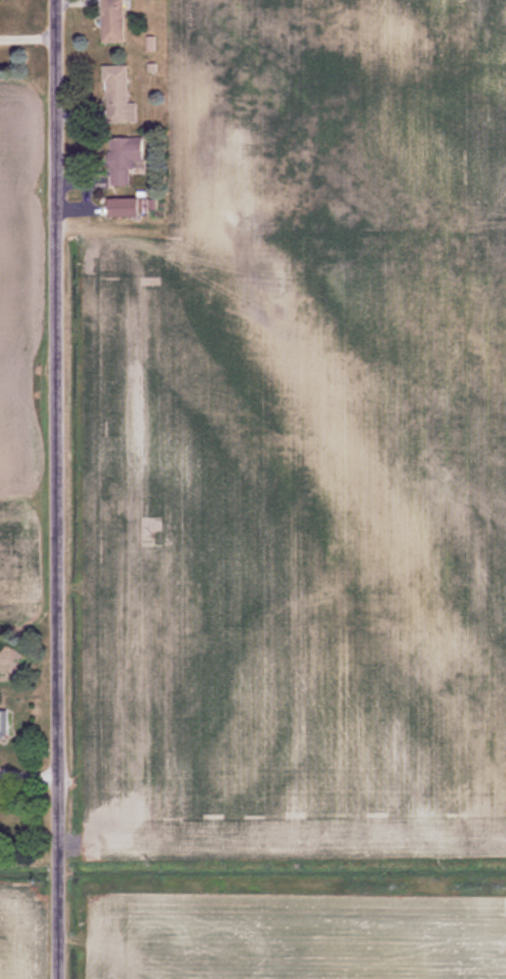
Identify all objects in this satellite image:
building: (115, 20)
building: (119, 93)
building: (125, 157)
building: (129, 206)
road: (56, 489)
building: (5, 725)
building: (10, 820)

